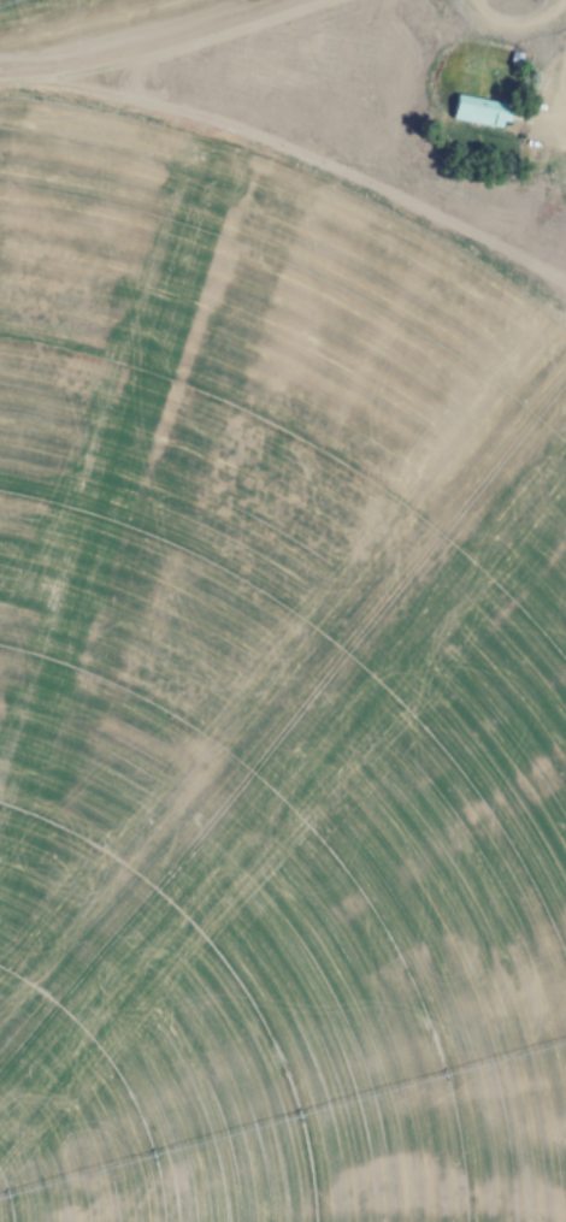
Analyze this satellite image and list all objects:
building: (472, 111)

